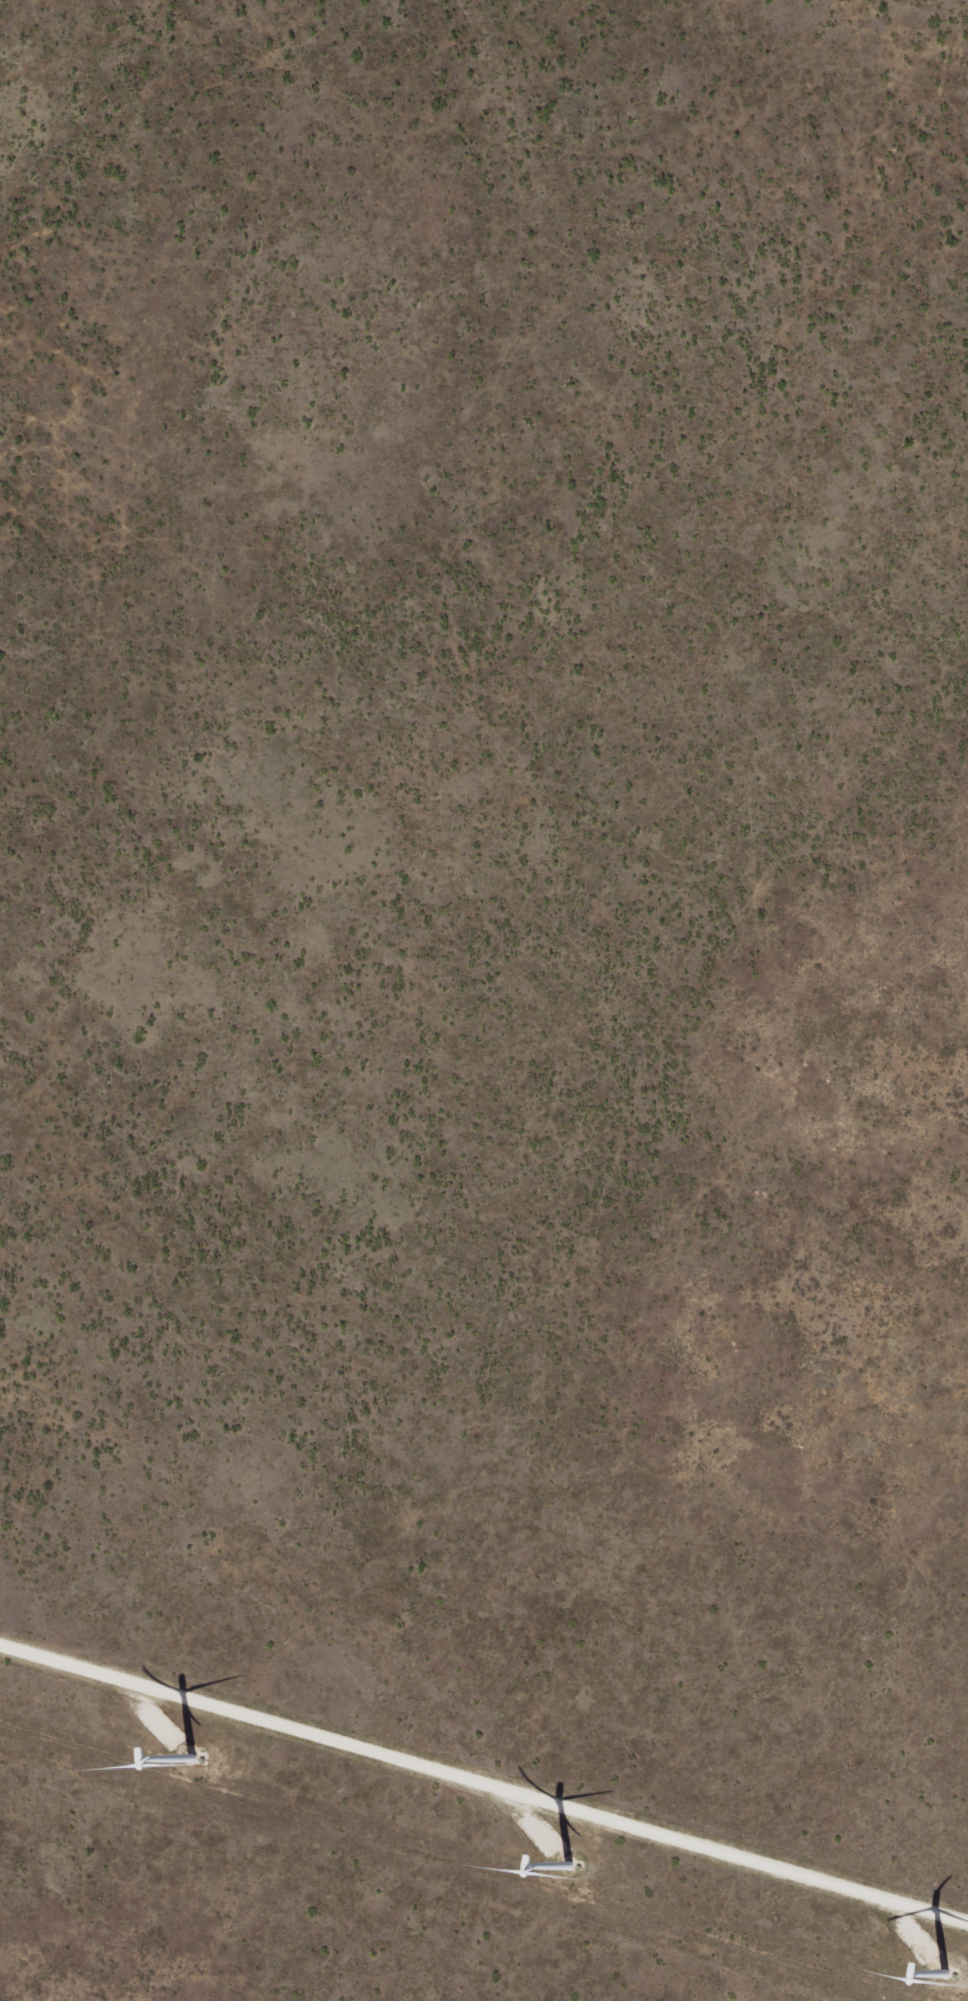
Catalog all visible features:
wind turbine: (176, 1762)
wind turbine: (576, 1871)
wind turbine: (926, 1967)

